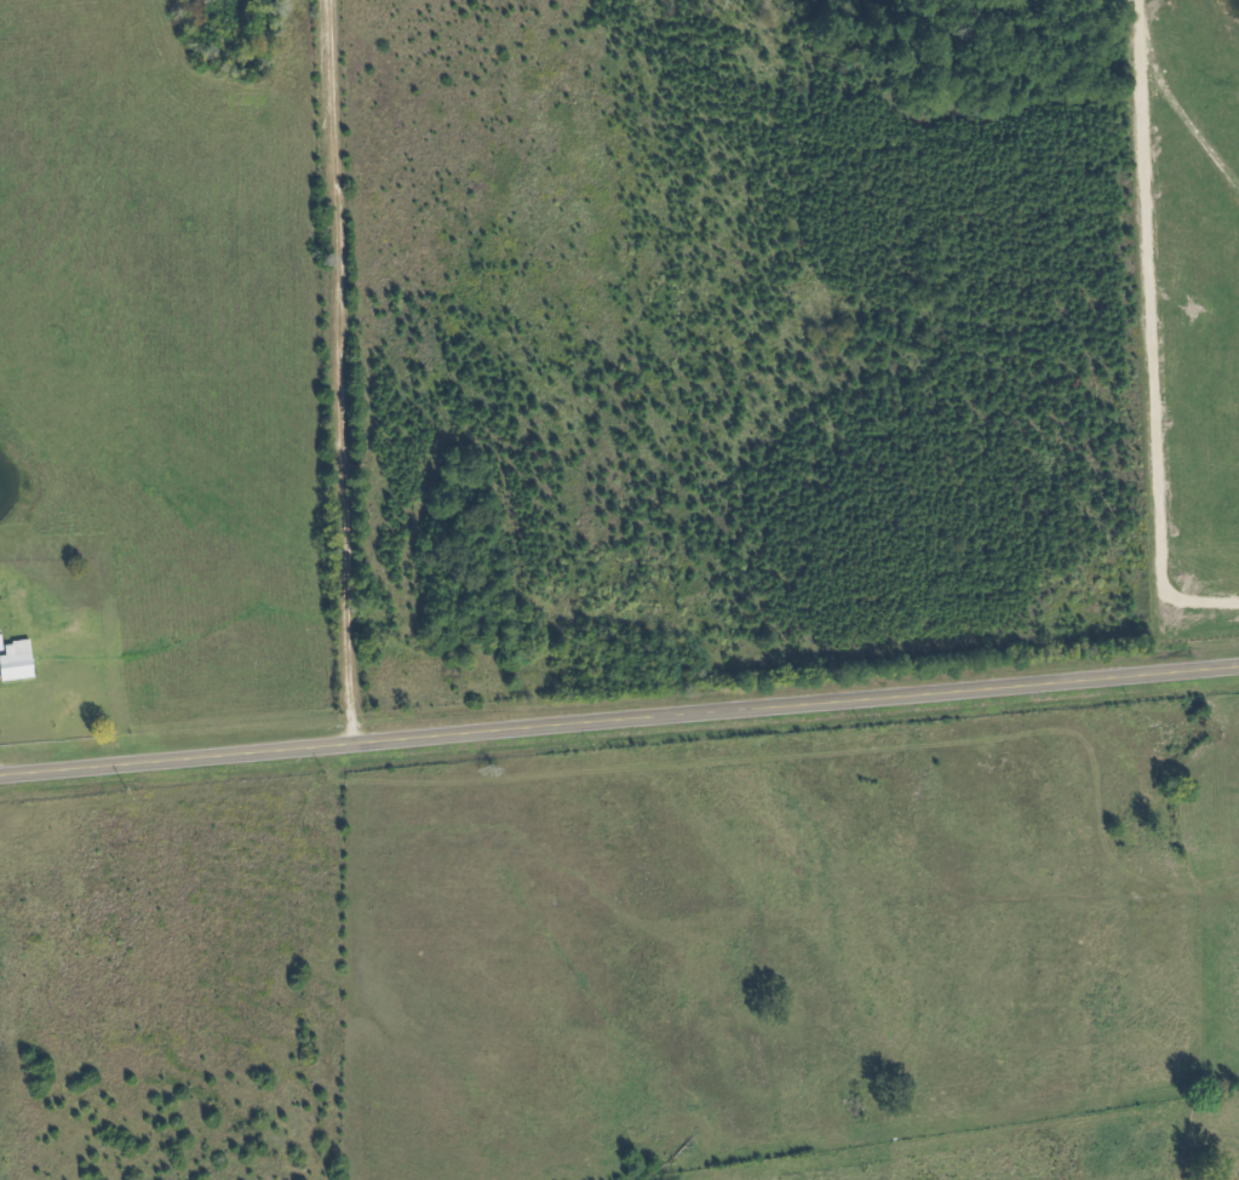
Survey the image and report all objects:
road: (340, 370)
building: (15, 659)
road: (619, 717)

